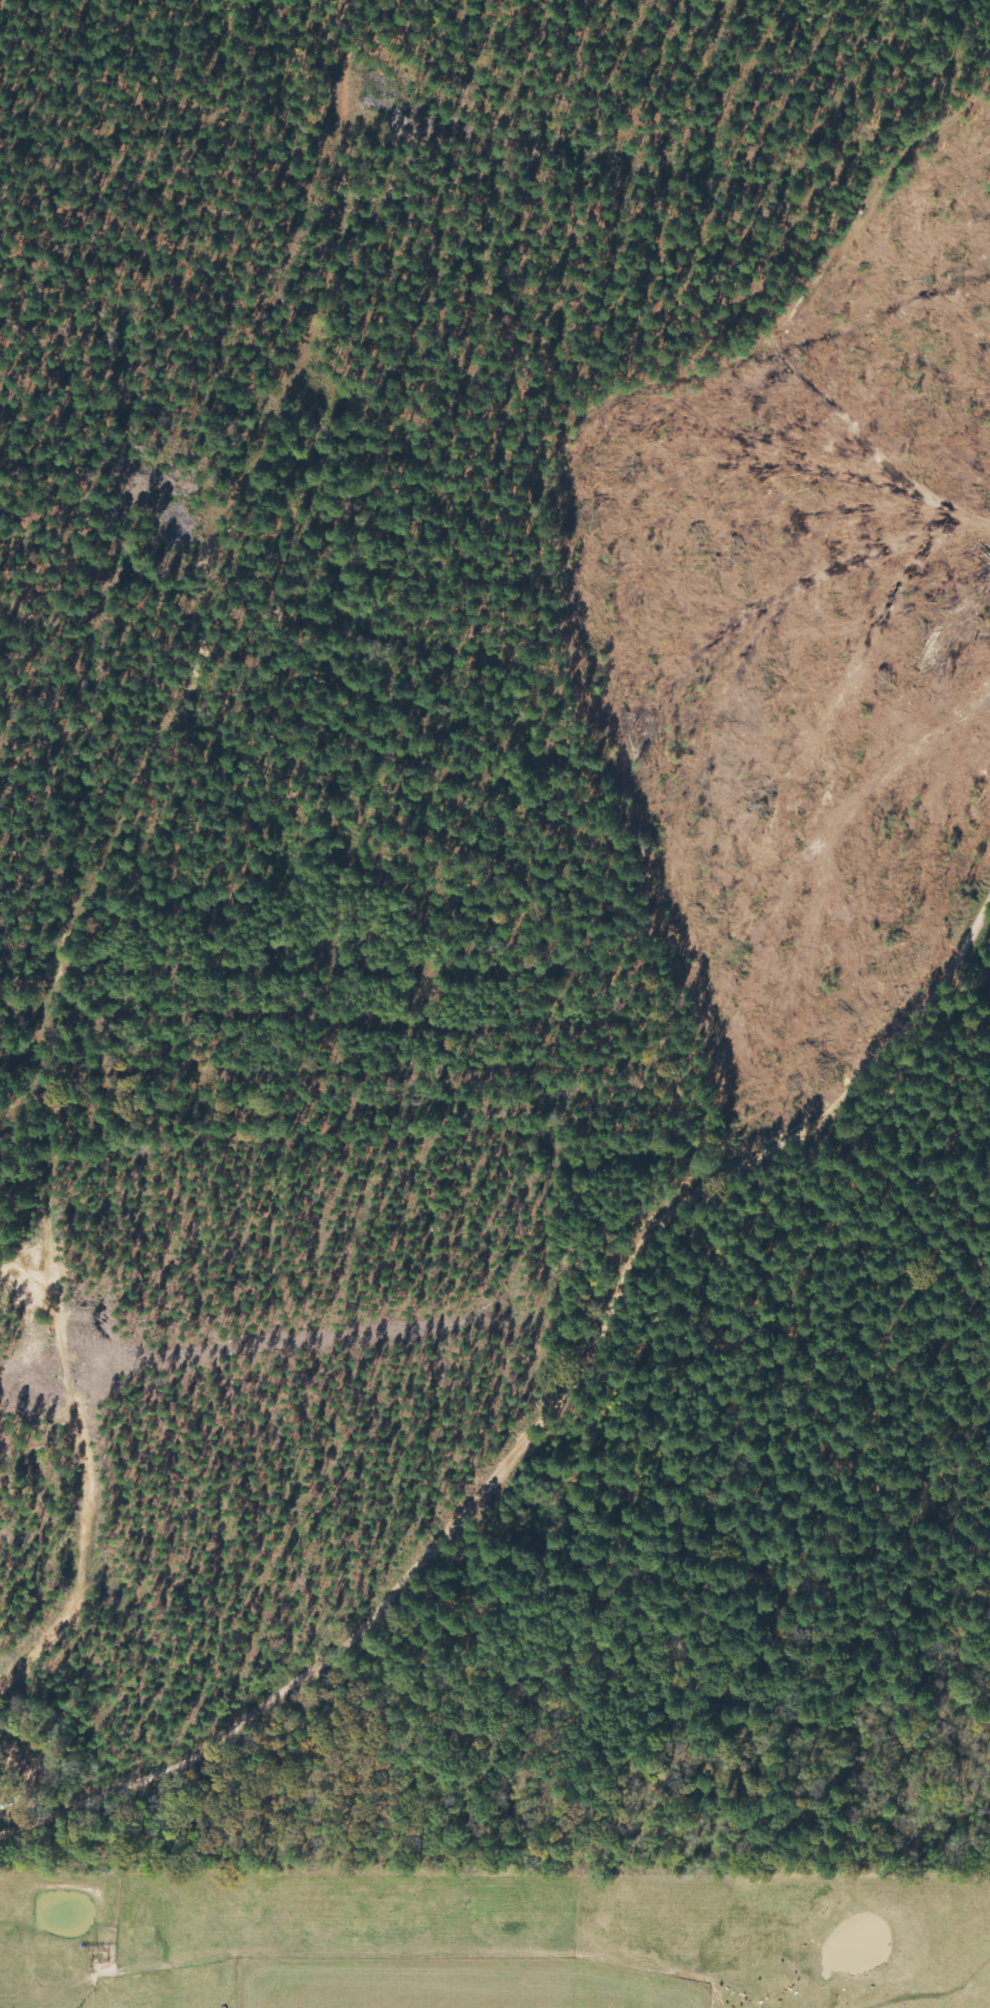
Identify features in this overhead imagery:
road: (528, 1398)

